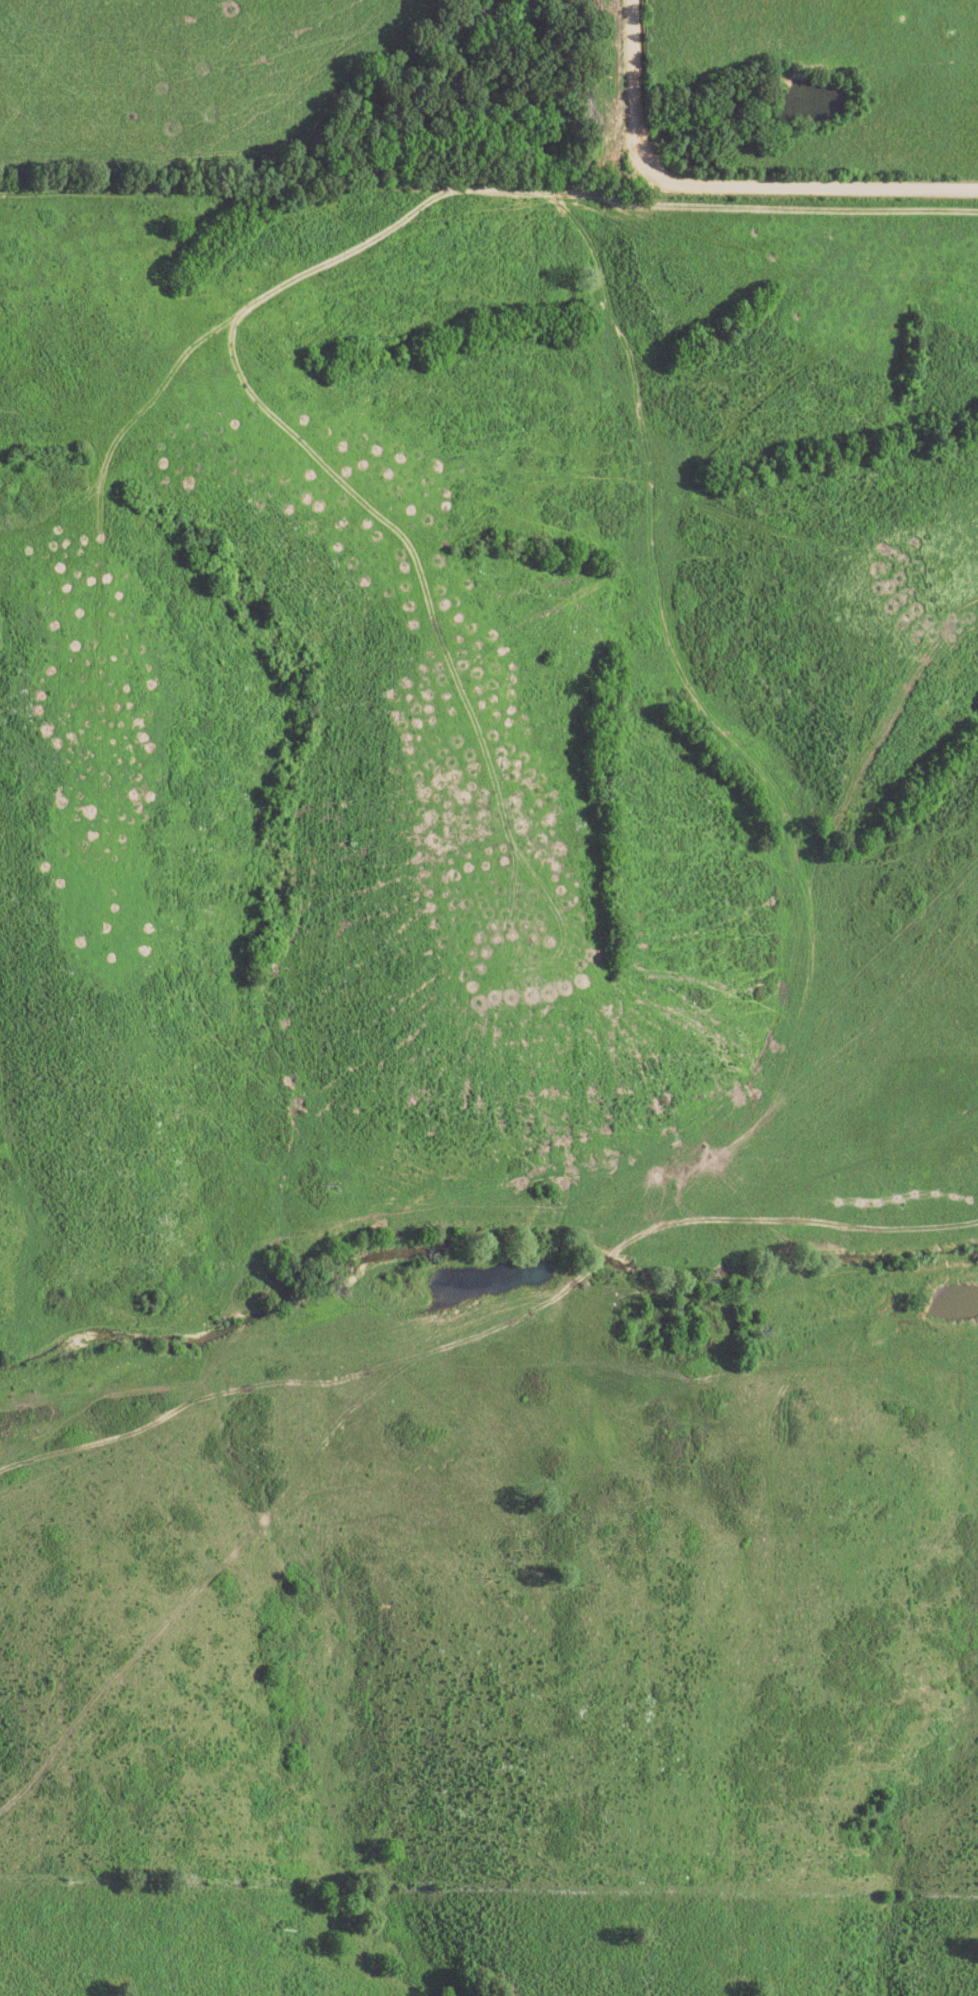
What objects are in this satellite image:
road: (726, 187)

